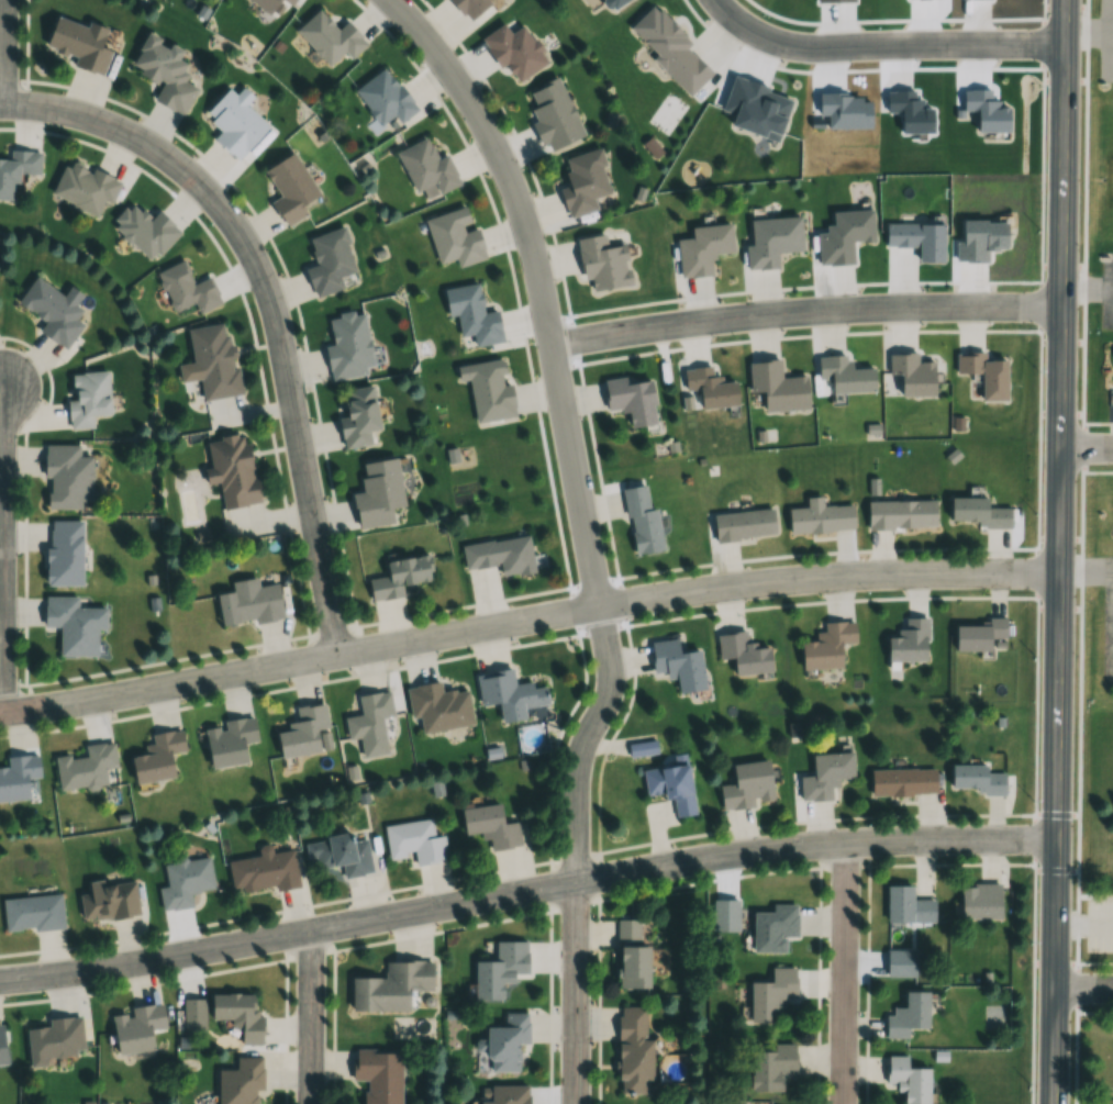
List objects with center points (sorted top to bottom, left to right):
building: (287, 2)
building: (265, 4)
building: (468, 7)
road: (1037, 23)
road: (1088, 31)
building: (327, 37)
road: (1111, 38)
parking lot: (1104, 40)
building: (78, 43)
road: (884, 46)
building: (513, 49)
road: (3, 51)
building: (164, 74)
street lamp: (1043, 83)
building: (383, 97)
road: (1, 102)
building: (552, 114)
building: (233, 122)
building: (16, 169)
building: (426, 169)
building: (582, 181)
building: (289, 187)
building: (84, 188)
building: (144, 231)
building: (454, 237)
building: (771, 241)
building: (702, 248)
building: (327, 260)
building: (602, 263)
road: (539, 285)
building: (186, 289)
parking lot: (1104, 294)
road: (268, 302)
building: (52, 311)
road: (804, 311)
building: (471, 314)
building: (348, 346)
building: (213, 360)
building: (1110, 360)
street lamp: (1039, 367)
building: (844, 373)
building: (912, 373)
building: (978, 378)
building: (777, 386)
building: (710, 388)
building: (487, 389)
building: (86, 398)
building: (630, 399)
parking lot: (1108, 408)
building: (357, 415)
road: (1077, 437)
road: (1033, 443)
road: (1087, 447)
building: (231, 470)
building: (65, 477)
building: (377, 492)
street lamp: (1038, 512)
building: (900, 514)
building: (820, 517)
building: (972, 518)
building: (641, 521)
building: (743, 524)
building: (1112, 542)
road: (1, 551)
road: (1059, 551)
building: (64, 554)
building: (500, 555)
building: (399, 576)
road: (824, 602)
building: (248, 603)
road: (526, 617)
building: (74, 624)
parking lot: (1105, 638)
building: (910, 640)
building: (973, 640)
building: (826, 645)
building: (743, 654)
building: (677, 665)
building: (508, 694)
building: (438, 706)
building: (370, 722)
building: (1002, 722)
building: (302, 731)
road: (556, 735)
building: (229, 741)
building: (156, 757)
building: (86, 767)
building: (18, 777)
building: (980, 778)
building: (905, 780)
building: (817, 782)
building: (670, 787)
building: (741, 793)
street lamp: (1033, 796)
building: (489, 826)
road: (692, 838)
road: (1043, 839)
building: (415, 840)
road: (1027, 843)
road: (572, 851)
building: (340, 852)
road: (1014, 863)
building: (263, 871)
building: (185, 881)
road: (512, 893)
building: (109, 900)
building: (908, 906)
building: (972, 907)
building: (32, 913)
parking lot: (1097, 925)
building: (773, 927)
street lamp: (1032, 941)
building: (631, 956)
road: (811, 961)
road: (1091, 967)
building: (499, 969)
road: (1026, 971)
road: (843, 973)
building: (391, 985)
road: (860, 985)
road: (1084, 985)
building: (771, 994)
building: (237, 1014)
building: (908, 1015)
road: (311, 1016)
road: (286, 1018)
building: (135, 1027)
road: (1069, 1036)
building: (54, 1039)
building: (505, 1042)
building: (1, 1046)
building: (633, 1051)
building: (770, 1068)
building: (378, 1074)
building: (908, 1080)
building: (241, 1081)
building: (505, 1095)

